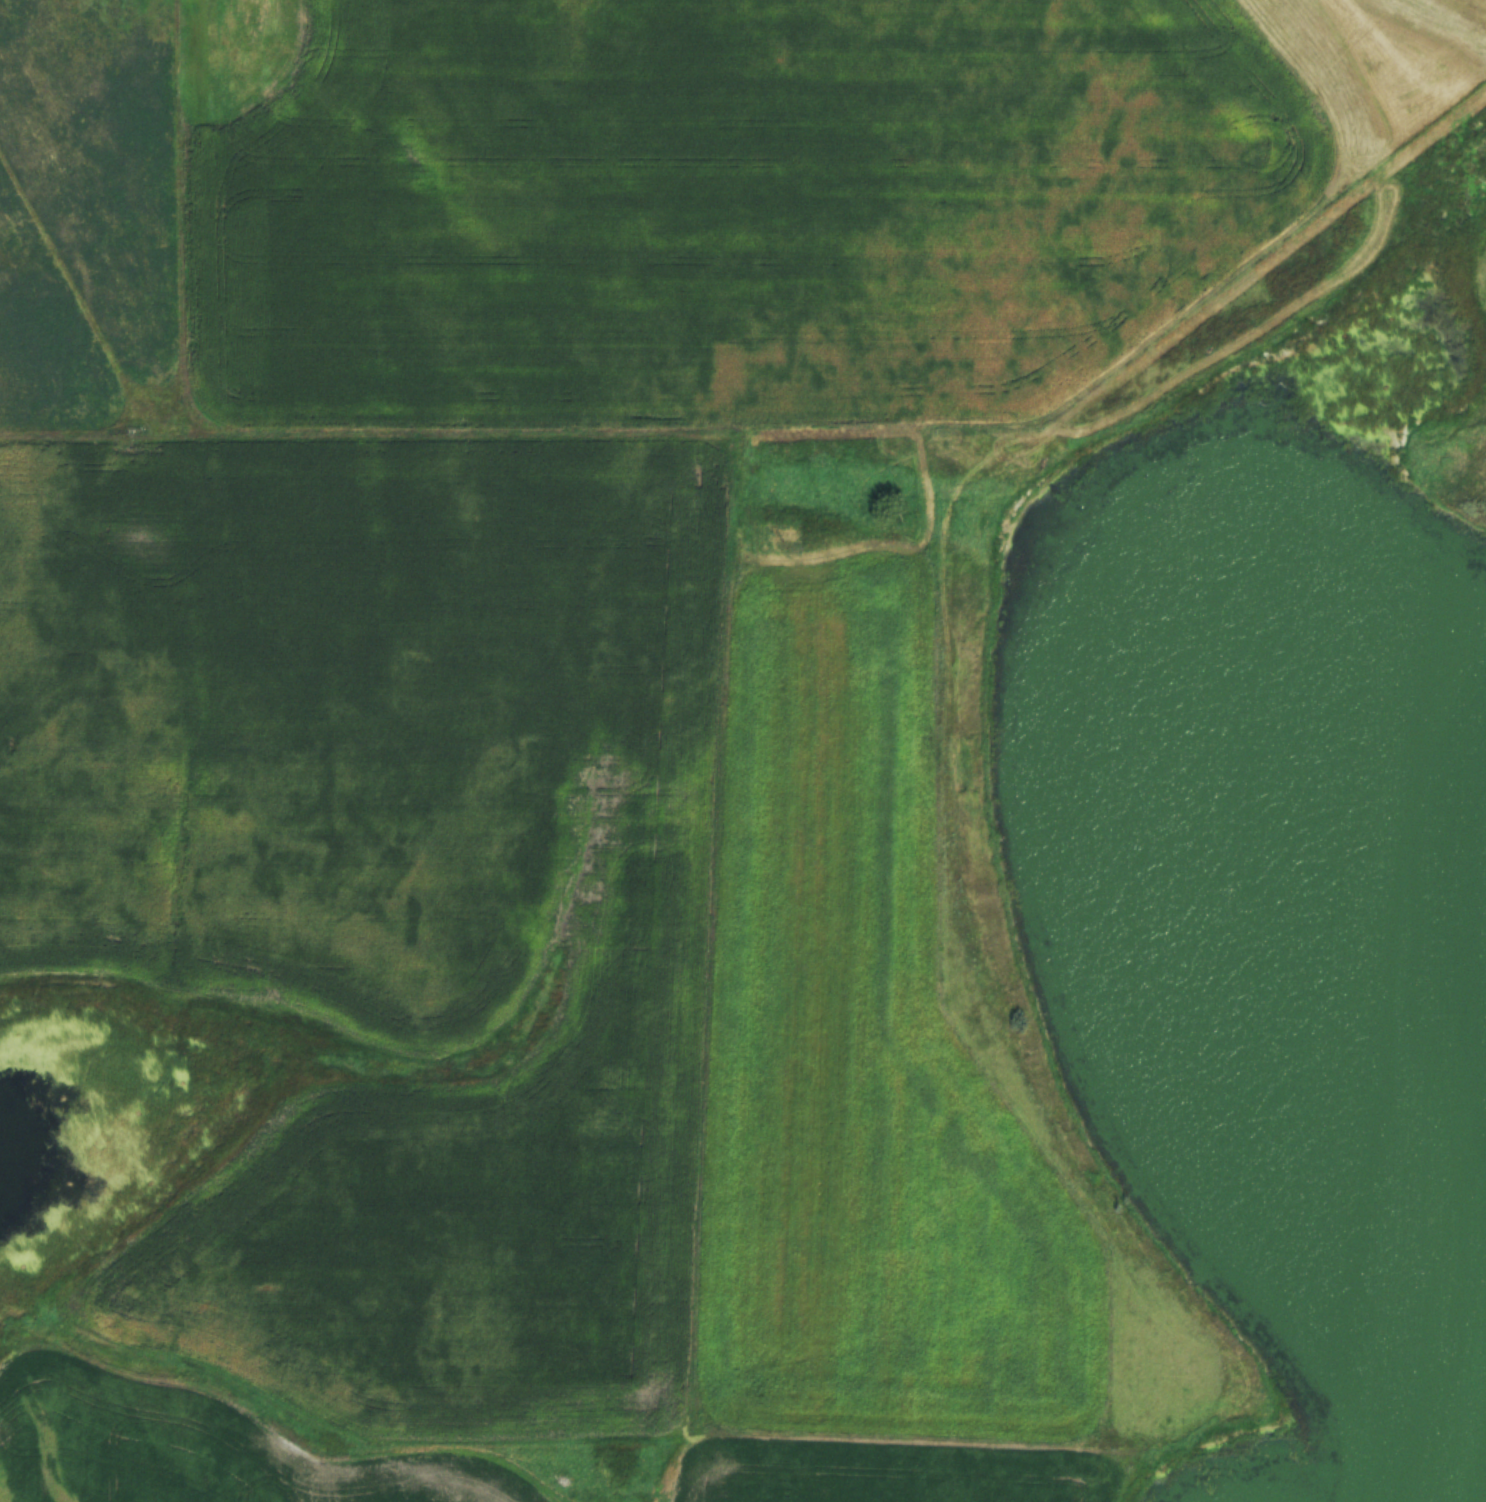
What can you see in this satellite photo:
crop: (760, 199)
crop: (861, 1061)

